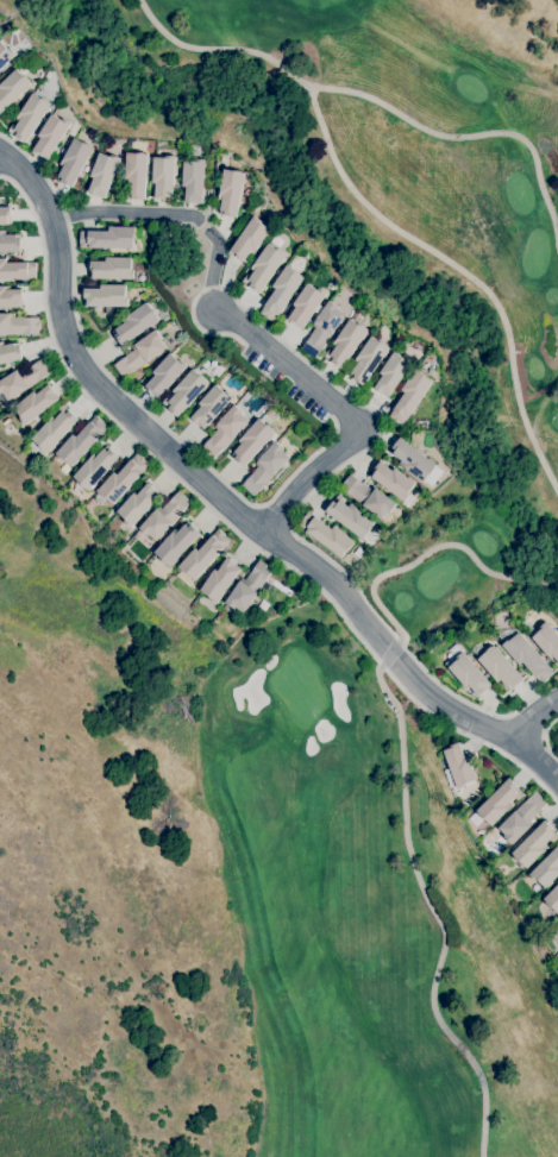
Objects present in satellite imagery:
building: (5, 55)
building: (12, 88)
road: (375, 99)
building: (30, 117)
building: (50, 136)
building: (74, 161)
building: (83, 174)
building: (102, 174)
building: (134, 175)
building: (163, 176)
building: (193, 180)
building: (230, 191)
road: (125, 210)
building: (5, 215)
building: (249, 237)
building: (108, 238)
building: (8, 243)
building: (264, 268)
building: (112, 269)
road: (460, 269)
building: (17, 270)
building: (282, 293)
building: (107, 295)
building: (10, 296)
building: (306, 304)
building: (136, 323)
building: (18, 325)
building: (322, 328)
building: (346, 342)
building: (10, 353)
building: (139, 353)
building: (184, 359)
building: (368, 360)
building: (391, 373)
building: (165, 375)
building: (23, 379)
road: (312, 384)
road: (126, 391)
building: (186, 391)
building: (410, 396)
building: (36, 404)
building: (211, 405)
building: (55, 428)
building: (224, 432)
building: (81, 441)
building: (252, 441)
building: (413, 459)
road: (341, 464)
building: (95, 467)
building: (265, 467)
building: (123, 479)
building: (393, 480)
building: (368, 497)
road: (230, 501)
building: (138, 504)
building: (164, 516)
building: (350, 516)
road: (227, 523)
building: (326, 534)
building: (176, 543)
road: (432, 548)
building: (203, 555)
park: (366, 572)
building: (219, 580)
building: (249, 586)
building: (546, 641)
road: (390, 653)
building: (527, 656)
building: (499, 667)
building: (466, 671)
road: (532, 716)
road: (545, 737)
building: (458, 765)
building: (496, 804)
building: (521, 817)
building: (534, 844)
building: (546, 869)
building: (552, 899)
road: (434, 913)

